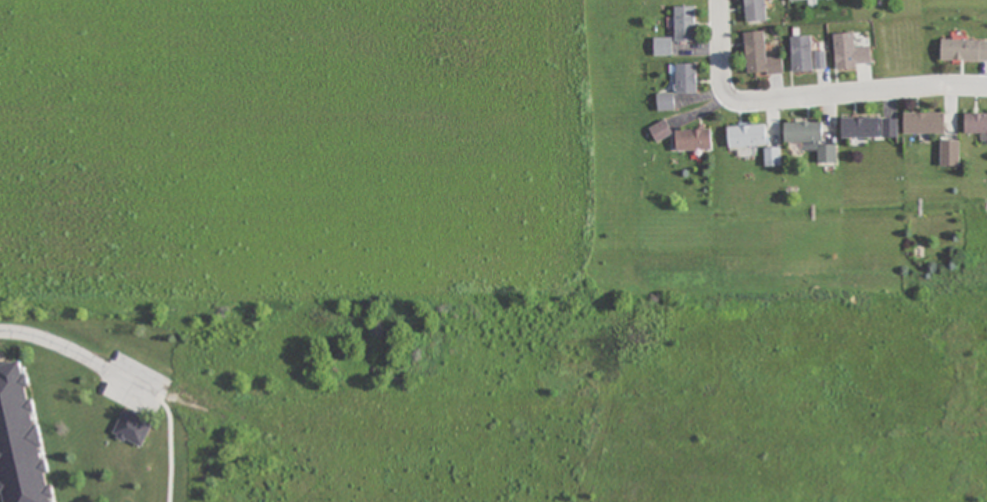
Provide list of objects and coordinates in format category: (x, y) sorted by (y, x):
building: (755, 10)
road: (720, 13)
building: (685, 24)
building: (663, 46)
building: (963, 50)
building: (850, 52)
building: (806, 55)
building: (760, 56)
building: (686, 78)
road: (820, 96)
building: (665, 102)
building: (924, 123)
building: (975, 124)
building: (869, 128)
building: (661, 131)
building: (803, 131)
building: (747, 135)
building: (693, 139)
building: (826, 153)
building: (950, 153)
building: (772, 156)
road: (82, 356)
building: (132, 429)
building: (20, 439)
road: (170, 449)

